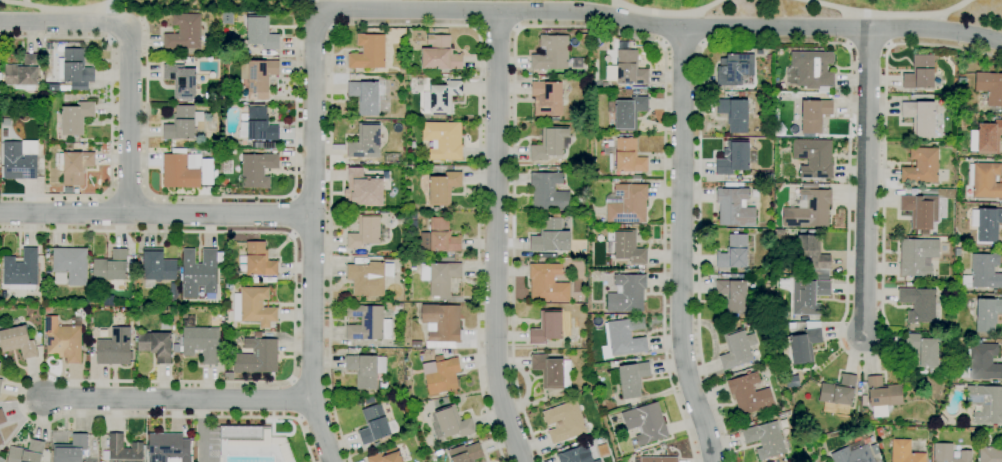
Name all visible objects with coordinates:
road: (25, 3)
park: (161, 5)
road: (59, 9)
park: (800, 9)
road: (667, 12)
road: (887, 13)
road: (406, 25)
road: (583, 26)
road: (670, 26)
road: (498, 28)
building: (185, 32)
building: (260, 32)
building: (409, 33)
road: (683, 45)
building: (47, 46)
building: (598, 46)
building: (207, 52)
building: (368, 52)
building: (554, 52)
building: (759, 52)
building: (442, 53)
road: (132, 55)
building: (768, 56)
building: (176, 59)
building: (627, 66)
building: (581, 69)
building: (734, 69)
building: (75, 70)
building: (402, 70)
building: (810, 70)
building: (23, 73)
building: (920, 73)
building: (258, 75)
building: (540, 77)
building: (42, 78)
building: (181, 81)
building: (970, 86)
building: (53, 87)
building: (64, 88)
building: (989, 88)
building: (245, 90)
building: (367, 96)
building: (550, 96)
building: (441, 97)
building: (778, 97)
building: (928, 97)
building: (245, 109)
building: (5, 110)
building: (626, 112)
building: (736, 112)
building: (810, 114)
road: (111, 117)
building: (75, 118)
building: (921, 118)
building: (6, 121)
building: (182, 123)
building: (258, 124)
building: (986, 138)
building: (364, 140)
building: (443, 140)
building: (224, 143)
building: (550, 143)
building: (216, 144)
building: (77, 145)
building: (264, 145)
building: (413, 145)
road: (849, 146)
building: (26, 147)
building: (369, 156)
building: (626, 157)
building: (733, 157)
building: (392, 158)
building: (813, 158)
building: (18, 162)
building: (73, 165)
building: (921, 166)
building: (360, 167)
building: (257, 169)
building: (180, 170)
building: (614, 181)
building: (983, 181)
road: (867, 182)
building: (225, 183)
building: (731, 185)
building: (365, 188)
building: (440, 188)
building: (548, 191)
building: (755, 193)
road: (128, 194)
road: (228, 196)
building: (626, 203)
building: (734, 208)
building: (808, 208)
building: (917, 211)
road: (156, 214)
road: (292, 215)
building: (398, 216)
building: (988, 224)
road: (312, 229)
building: (367, 232)
building: (778, 233)
building: (438, 236)
building: (550, 236)
road: (495, 239)
building: (624, 246)
road: (679, 248)
building: (957, 251)
building: (733, 252)
building: (811, 254)
building: (394, 256)
building: (917, 256)
building: (258, 260)
building: (43, 262)
building: (69, 266)
building: (110, 266)
building: (156, 267)
building: (21, 271)
building: (642, 271)
building: (983, 272)
building: (48, 273)
building: (200, 273)
building: (440, 275)
building: (733, 276)
building: (369, 277)
building: (740, 277)
building: (547, 284)
building: (612, 289)
building: (626, 293)
building: (733, 295)
building: (809, 295)
building: (86, 301)
building: (918, 304)
building: (253, 306)
building: (398, 307)
building: (47, 310)
building: (987, 313)
building: (783, 317)
building: (164, 319)
building: (367, 323)
building: (441, 324)
building: (791, 325)
building: (547, 327)
building: (257, 335)
building: (621, 338)
building: (17, 339)
building: (62, 339)
building: (200, 341)
building: (415, 344)
building: (801, 344)
building: (155, 345)
building: (114, 347)
building: (176, 348)
building: (737, 349)
building: (923, 350)
building: (257, 356)
building: (629, 357)
building: (983, 361)
building: (552, 371)
building: (365, 372)
building: (442, 376)
building: (629, 378)
road: (195, 381)
building: (792, 382)
building: (0, 383)
building: (749, 394)
building: (838, 394)
building: (882, 396)
road: (175, 400)
building: (369, 400)
building: (985, 403)
building: (2, 417)
building: (748, 417)
building: (564, 422)
building: (782, 422)
building: (450, 423)
building: (645, 423)
building: (756, 423)
building: (373, 424)
road: (204, 431)
building: (254, 437)
building: (765, 439)
building: (0, 442)
building: (376, 445)
building: (874, 447)
building: (168, 448)
building: (665, 448)
building: (71, 449)
building: (123, 449)
building: (637, 451)
building: (27, 452)
building: (905, 452)
building: (465, 453)
building: (950, 453)
building: (990, 454)
building: (576, 455)
building: (853, 455)
building: (386, 456)
building: (1, 459)
building: (656, 459)

